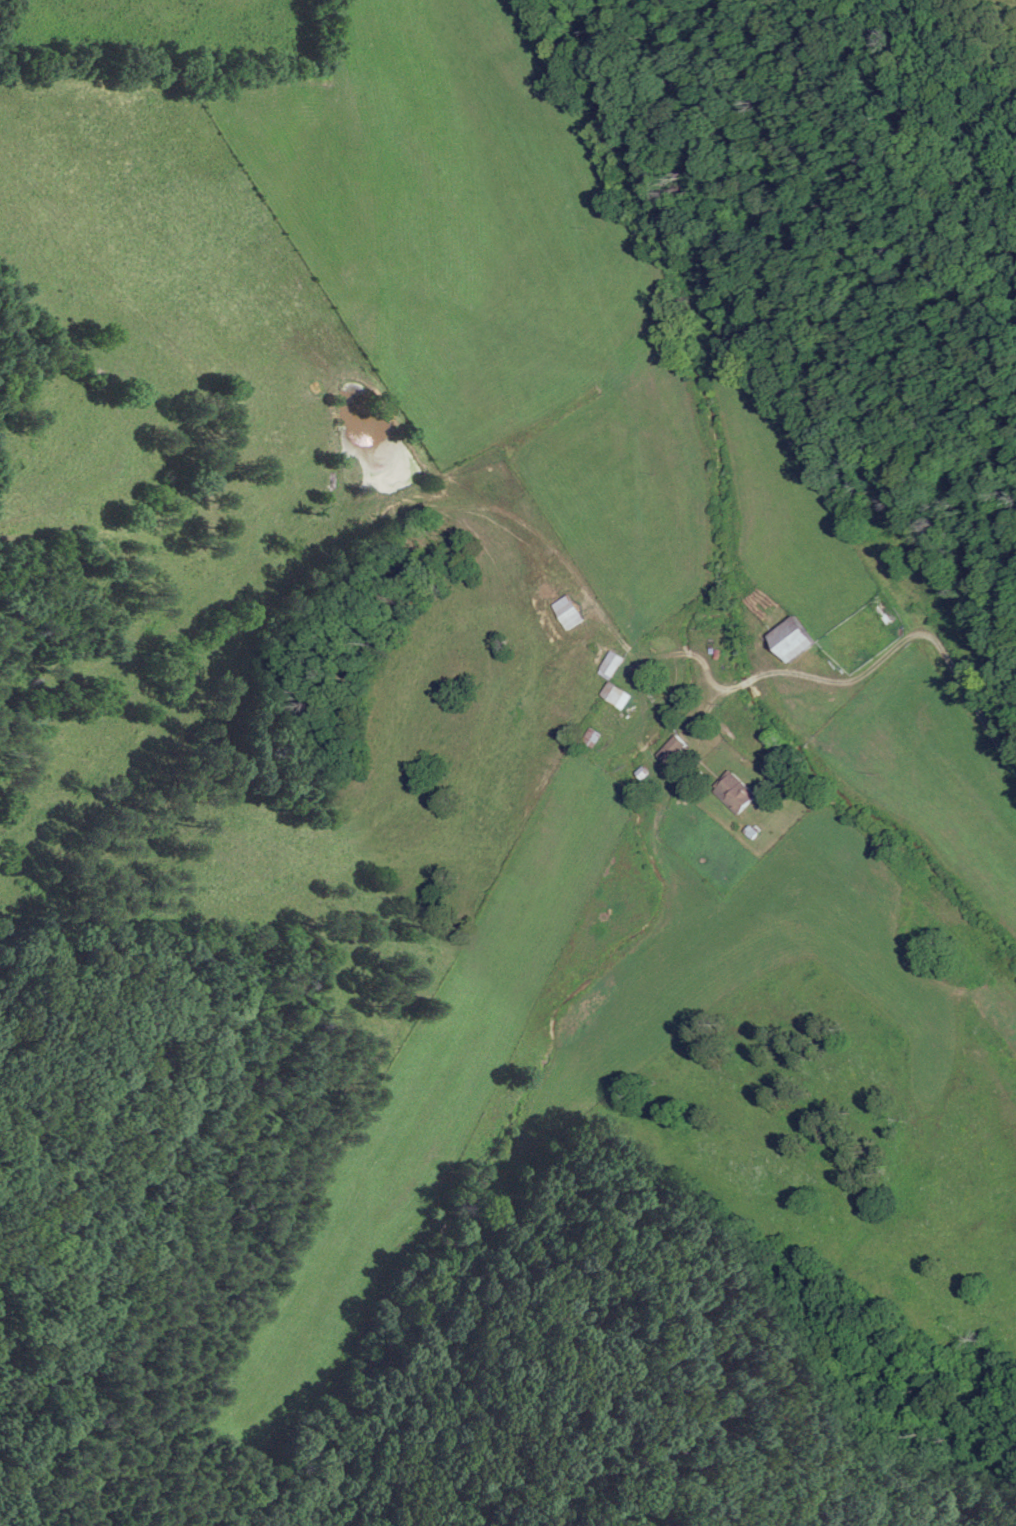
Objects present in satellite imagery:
building: (570, 612)
building: (797, 638)
building: (614, 677)
building: (675, 751)
building: (737, 794)

